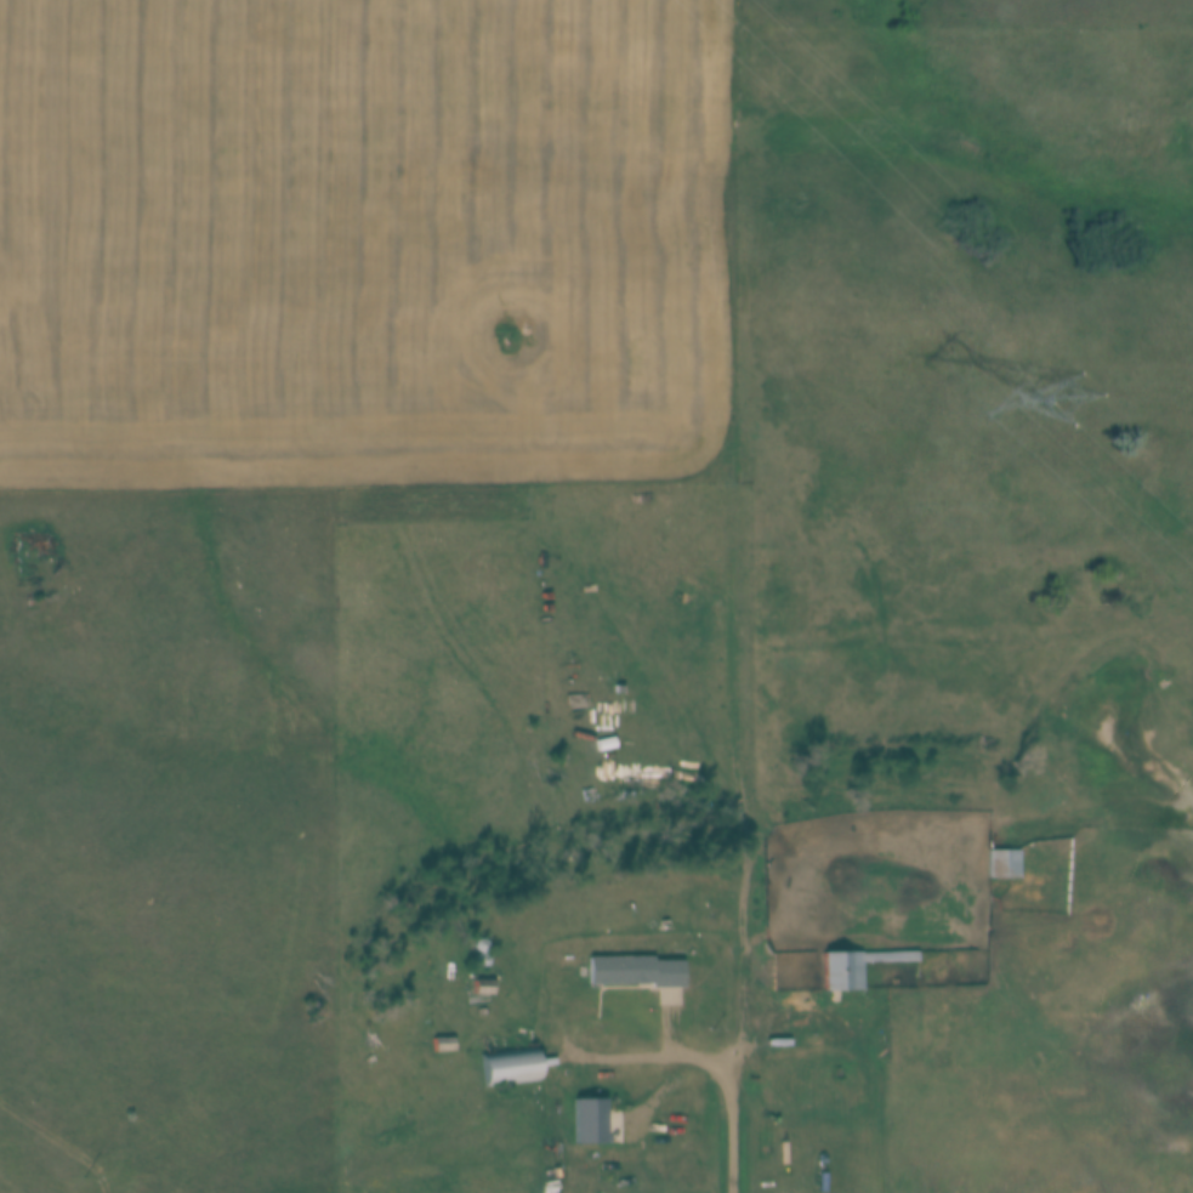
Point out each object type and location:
power tower: (1079, 404)
building: (1001, 863)
building: (850, 967)
building: (615, 970)
building: (481, 987)
road: (576, 1038)
building: (439, 1044)
building: (509, 1067)
road: (731, 1120)

